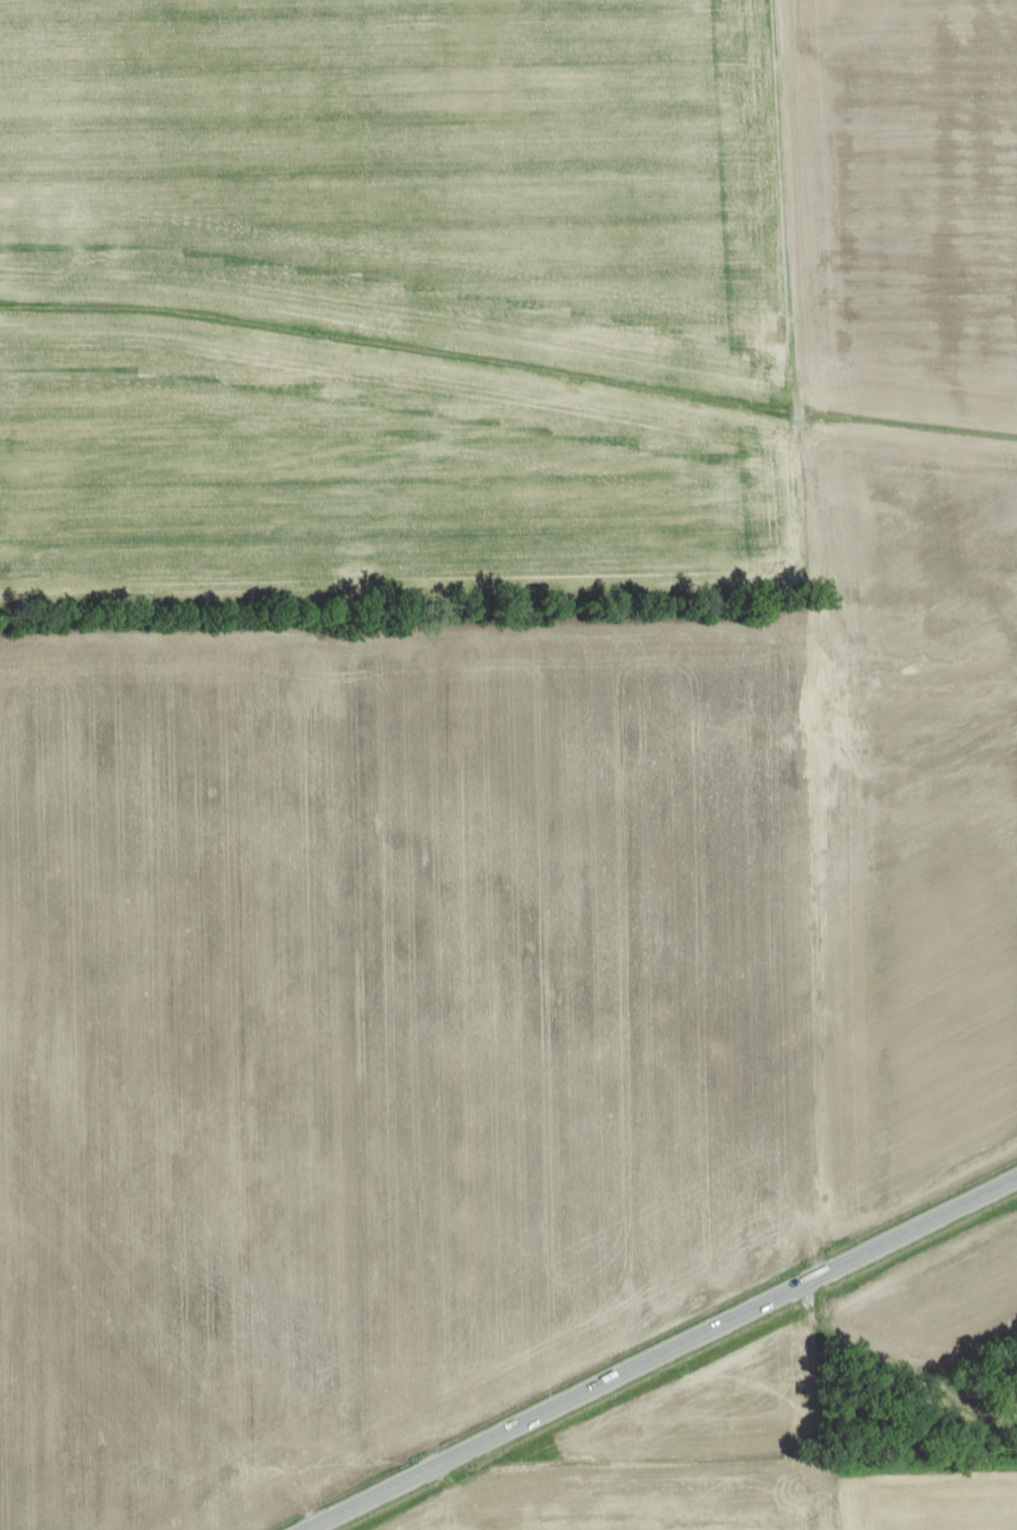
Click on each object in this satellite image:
road: (663, 1347)

